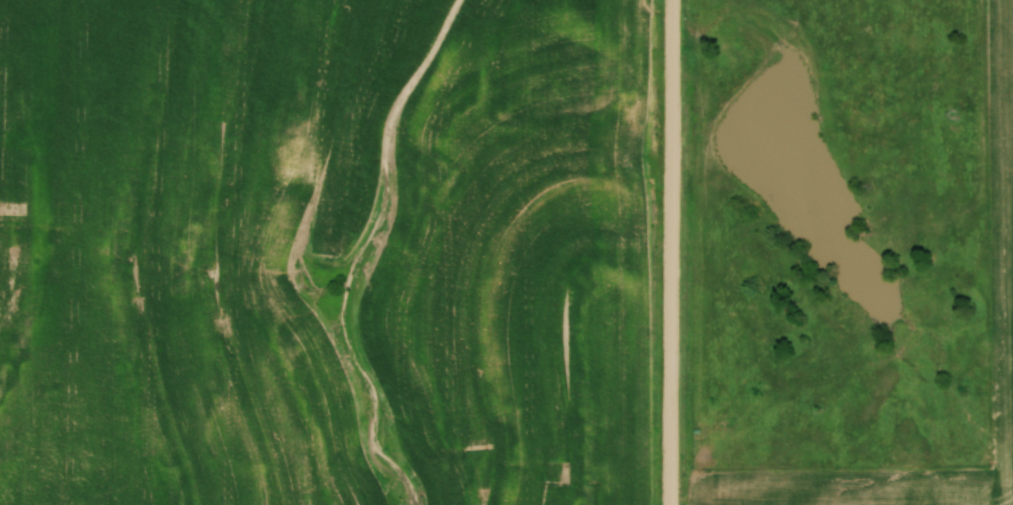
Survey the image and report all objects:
road: (673, 252)

